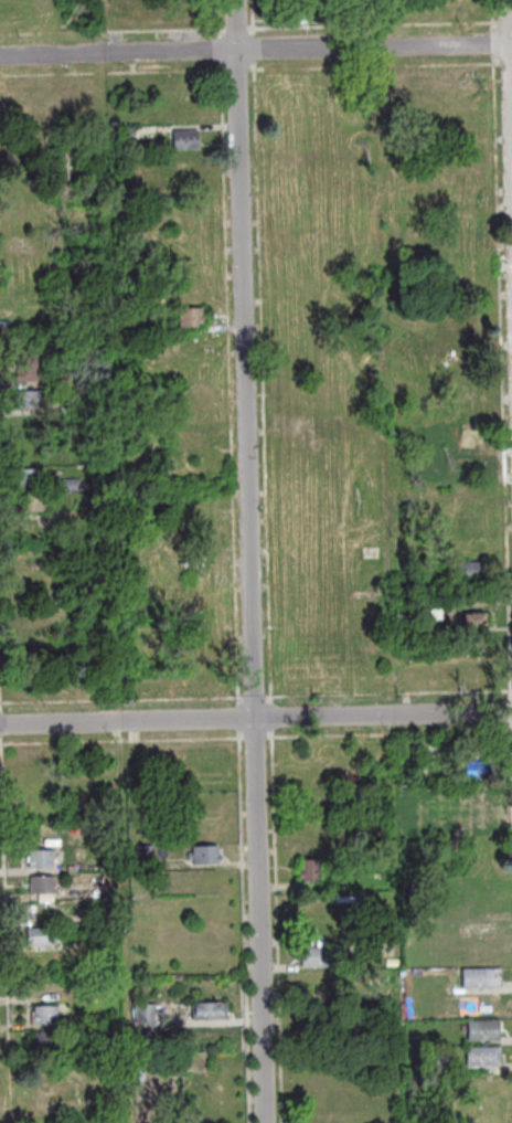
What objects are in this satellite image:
building: (184, 12)
building: (115, 17)
building: (291, 17)
road: (493, 17)
road: (222, 18)
road: (255, 18)
road: (506, 23)
road: (375, 24)
road: (238, 30)
road: (114, 32)
road: (511, 32)
road: (495, 39)
road: (223, 47)
road: (256, 49)
road: (255, 50)
road: (234, 70)
road: (115, 73)
building: (129, 136)
building: (189, 141)
building: (193, 318)
road: (263, 331)
building: (468, 336)
building: (29, 371)
building: (62, 382)
road: (232, 383)
building: (31, 401)
building: (73, 407)
building: (467, 435)
building: (463, 464)
building: (31, 478)
building: (73, 486)
building: (36, 505)
road: (253, 561)
building: (470, 570)
building: (418, 595)
building: (474, 596)
building: (474, 622)
road: (1, 665)
road: (252, 699)
road: (124, 701)
road: (239, 718)
road: (255, 718)
road: (2, 724)
road: (252, 738)
road: (122, 741)
building: (479, 770)
building: (478, 796)
building: (461, 823)
building: (204, 854)
building: (145, 857)
building: (41, 858)
building: (308, 870)
building: (42, 884)
road: (245, 925)
road: (7, 929)
building: (42, 935)
building: (316, 956)
building: (480, 977)
building: (206, 1009)
building: (45, 1014)
building: (145, 1014)
building: (481, 1029)
building: (46, 1041)
building: (482, 1056)

